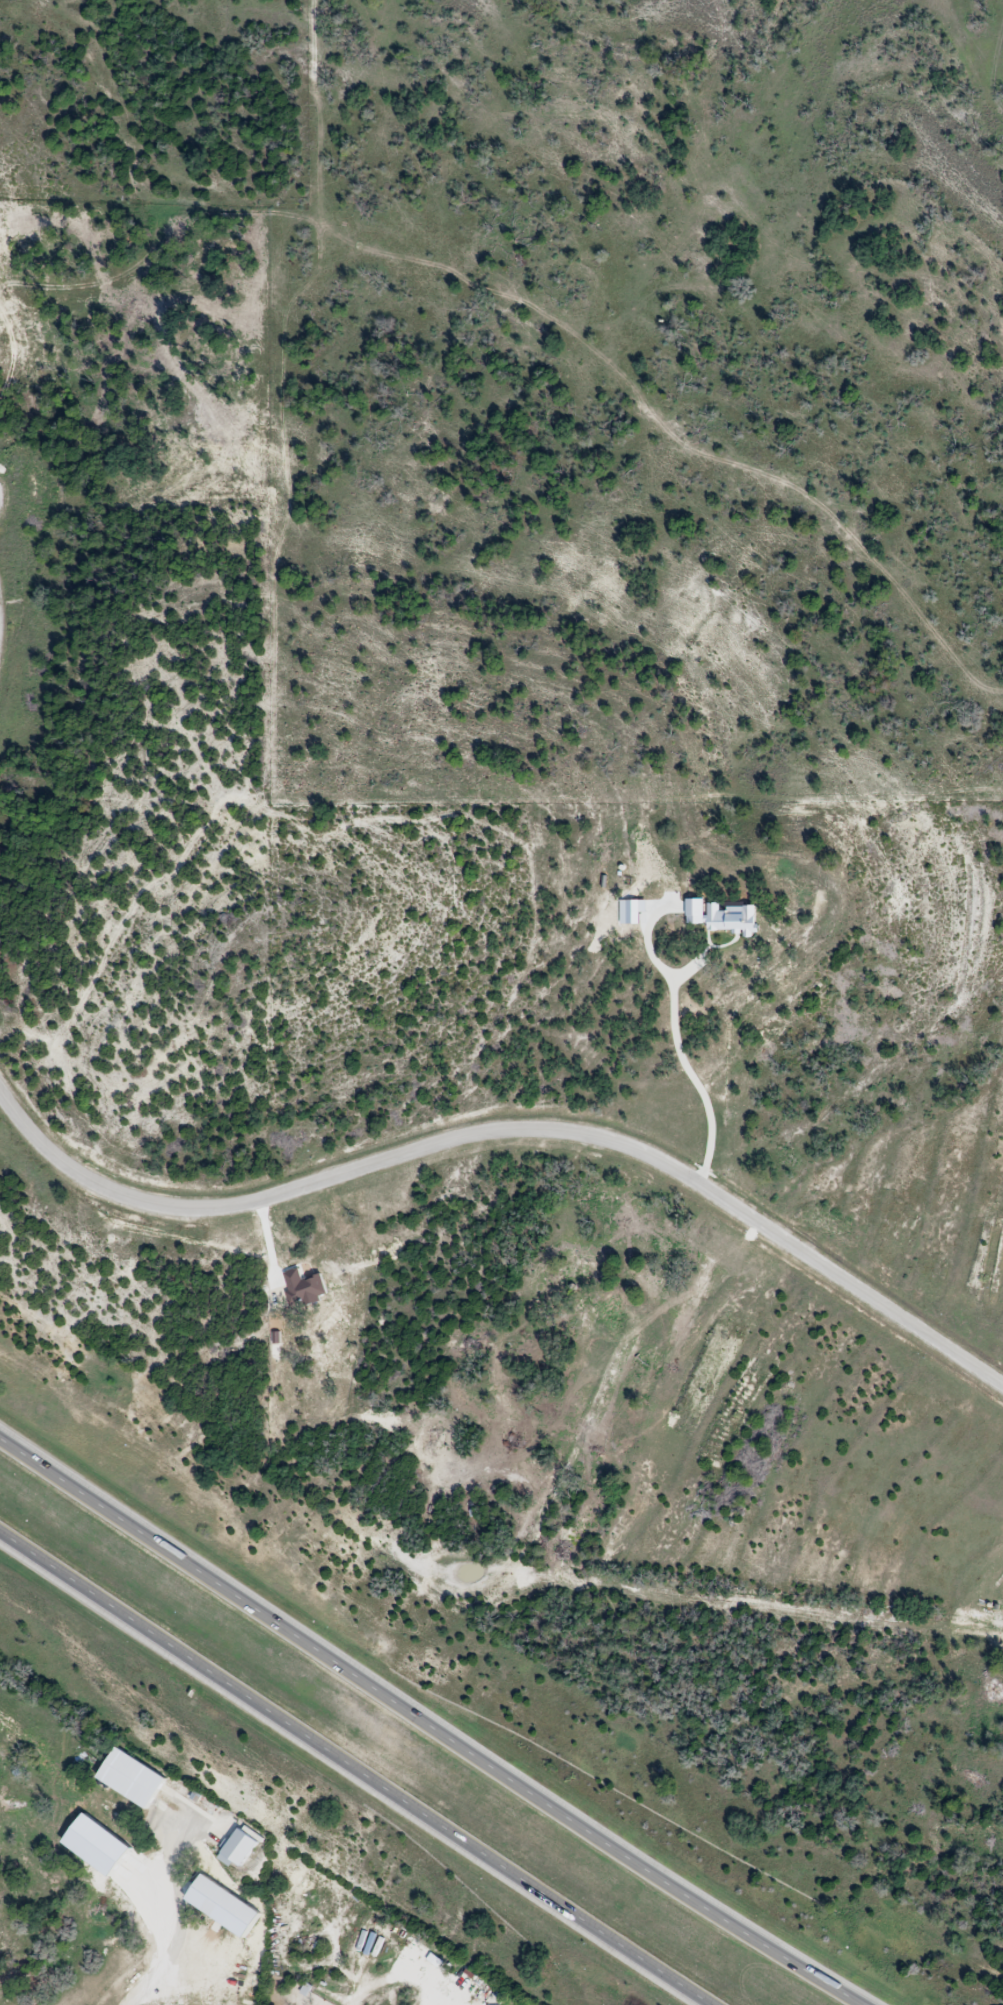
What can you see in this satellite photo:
road: (698, 1076)
road: (511, 1130)
road: (435, 1721)
road: (356, 1770)
building: (135, 1778)
building: (245, 1847)
road: (187, 1934)
road: (395, 1983)

